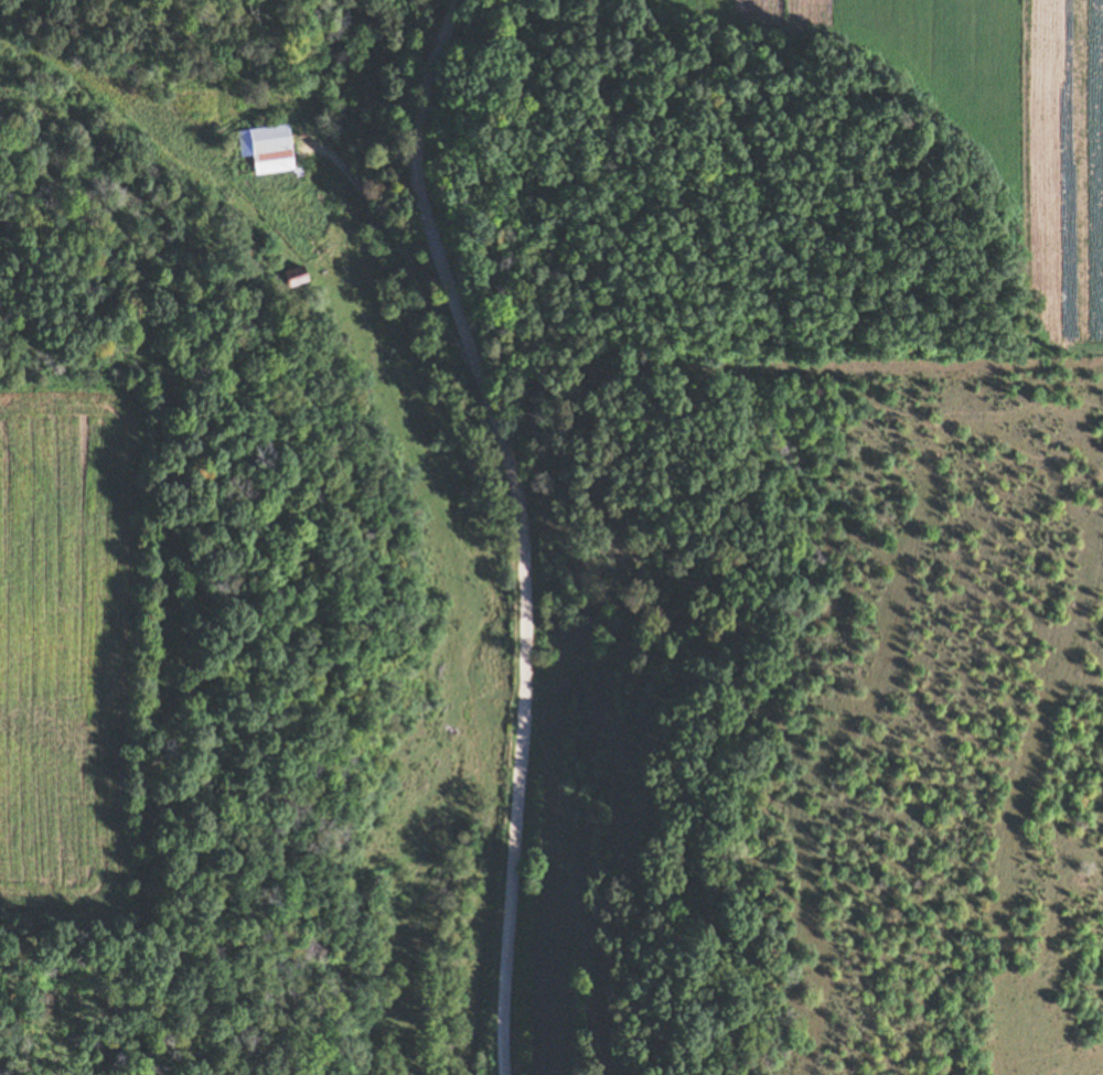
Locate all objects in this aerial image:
crop: (1000, 116)
building: (265, 148)
building: (291, 276)
road: (521, 527)
crop: (65, 651)

